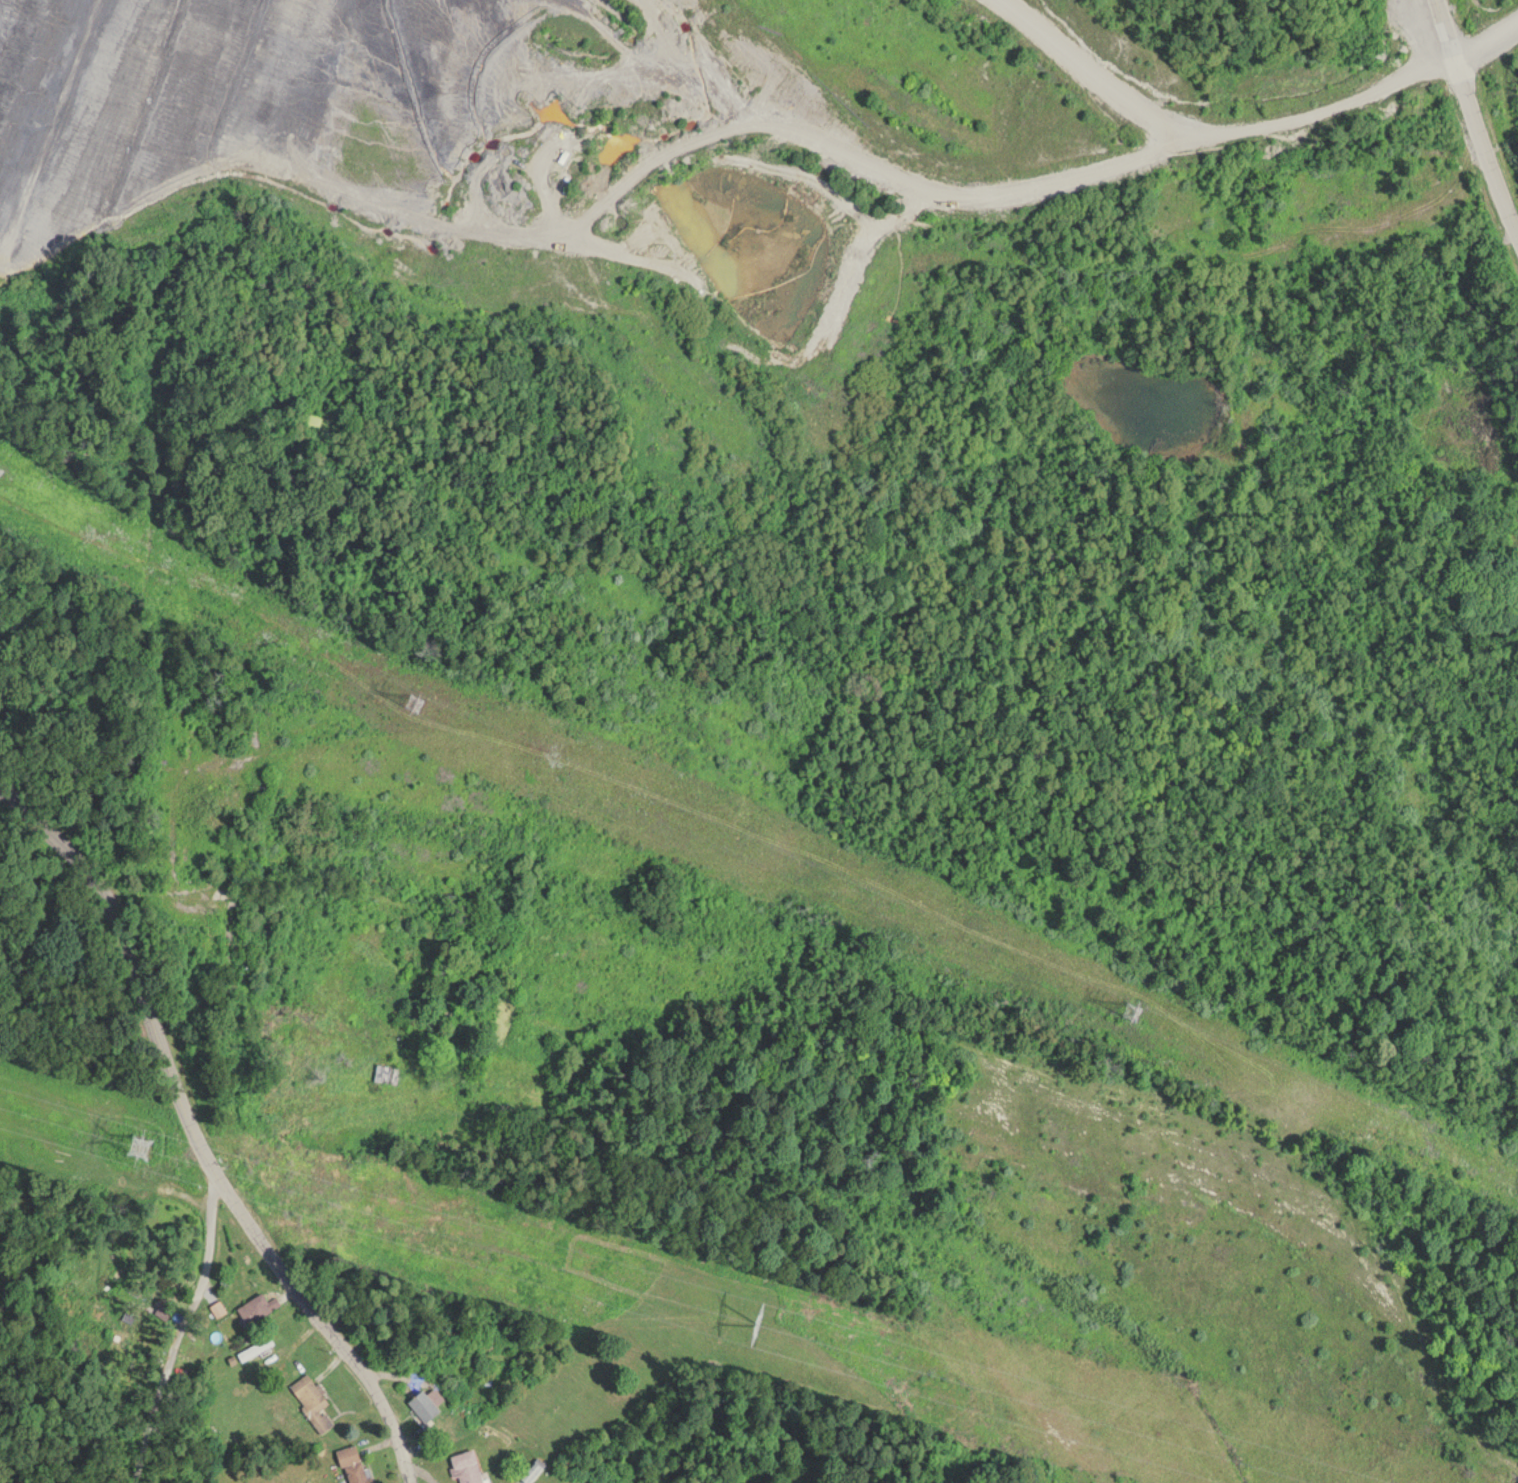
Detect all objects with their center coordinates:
road: (1470, 115)
building: (1, 470)
road: (269, 671)
power tower: (409, 701)
power tower: (1125, 1001)
building: (386, 1073)
power tower: (127, 1130)
road: (188, 1149)
building: (260, 1305)
road: (144, 1306)
power tower: (741, 1310)
building: (257, 1346)
building: (425, 1403)
building: (354, 1463)
building: (468, 1465)

